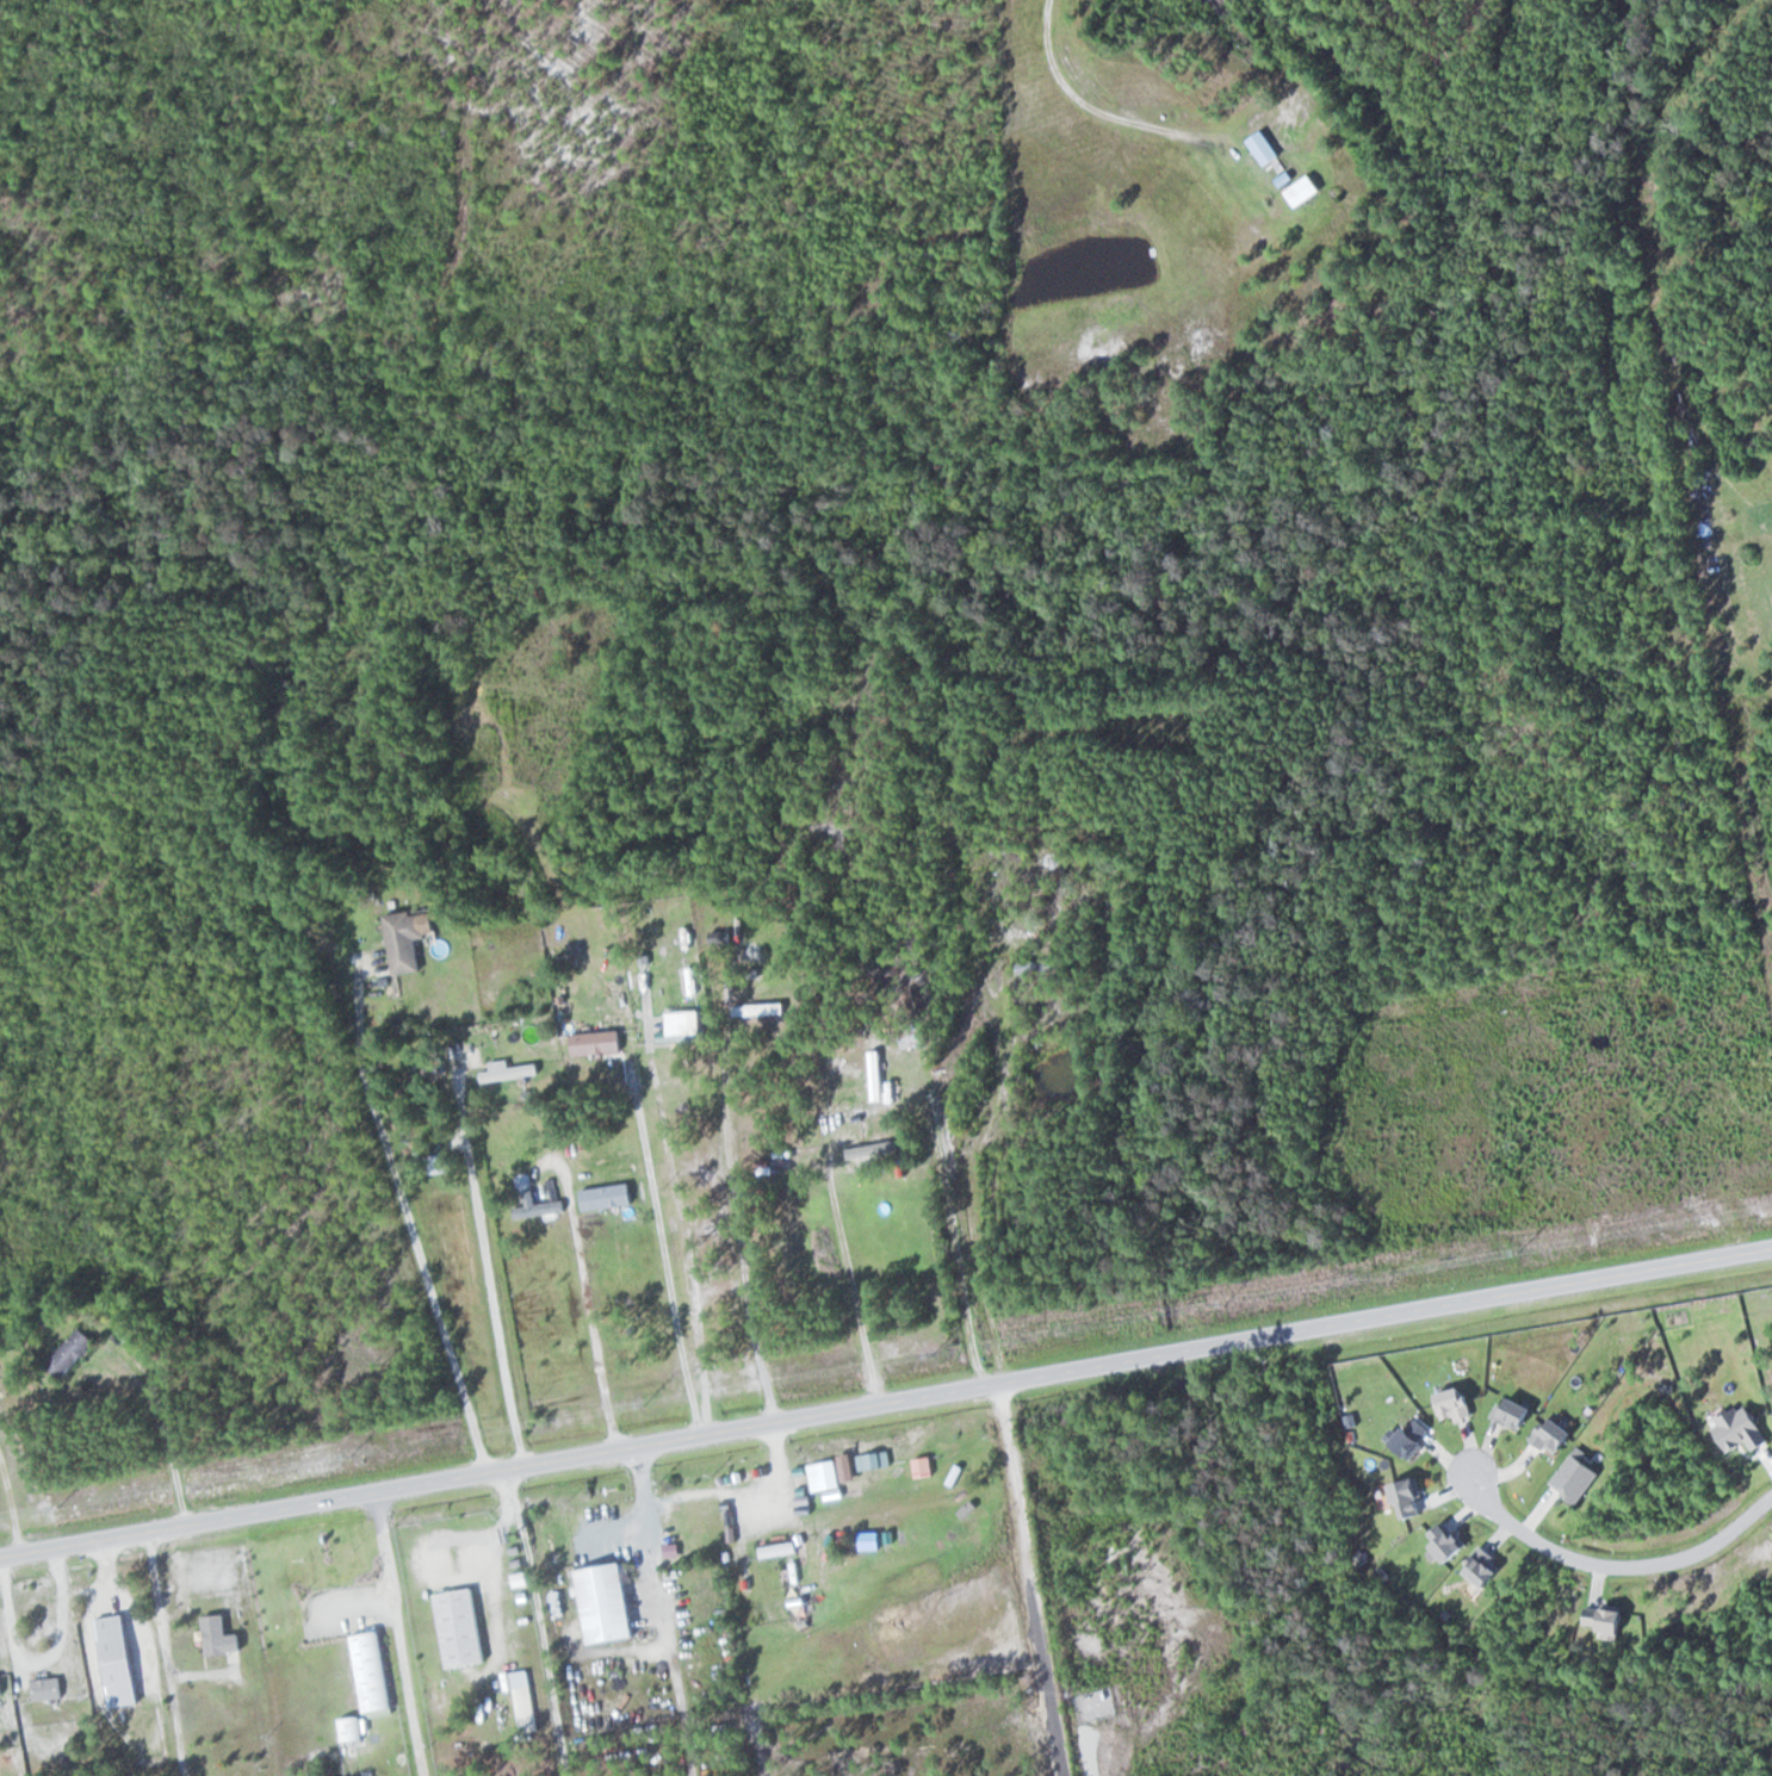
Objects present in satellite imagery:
road: (1108, 113)
building: (1266, 149)
building: (1306, 191)
building: (411, 938)
building: (1048, 968)
building: (762, 1008)
building: (915, 1037)
building: (599, 1043)
building: (509, 1072)
building: (879, 1075)
building: (609, 1197)
building: (541, 1209)
road: (411, 1218)
power tower: (1518, 1253)
power tower: (1227, 1305)
building: (74, 1352)
power tower: (931, 1356)
road: (885, 1397)
power tower: (646, 1405)
power tower: (347, 1455)
power tower: (60, 1507)
building: (704, 1515)
road: (1619, 1566)
building: (609, 1603)
building: (463, 1627)
road: (166, 1651)
building: (120, 1659)
building: (373, 1672)
building: (2, 1685)
building: (49, 1689)
building: (527, 1701)
building: (352, 1728)

